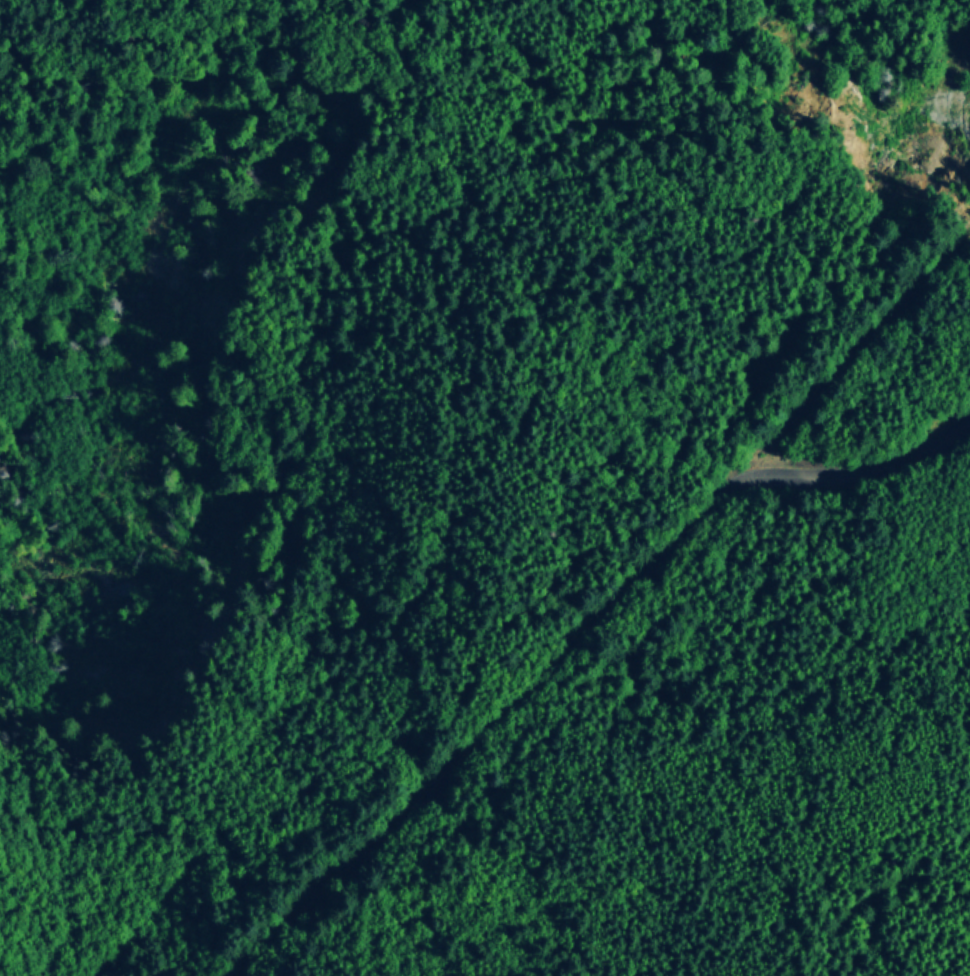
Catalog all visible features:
road: (575, 649)

